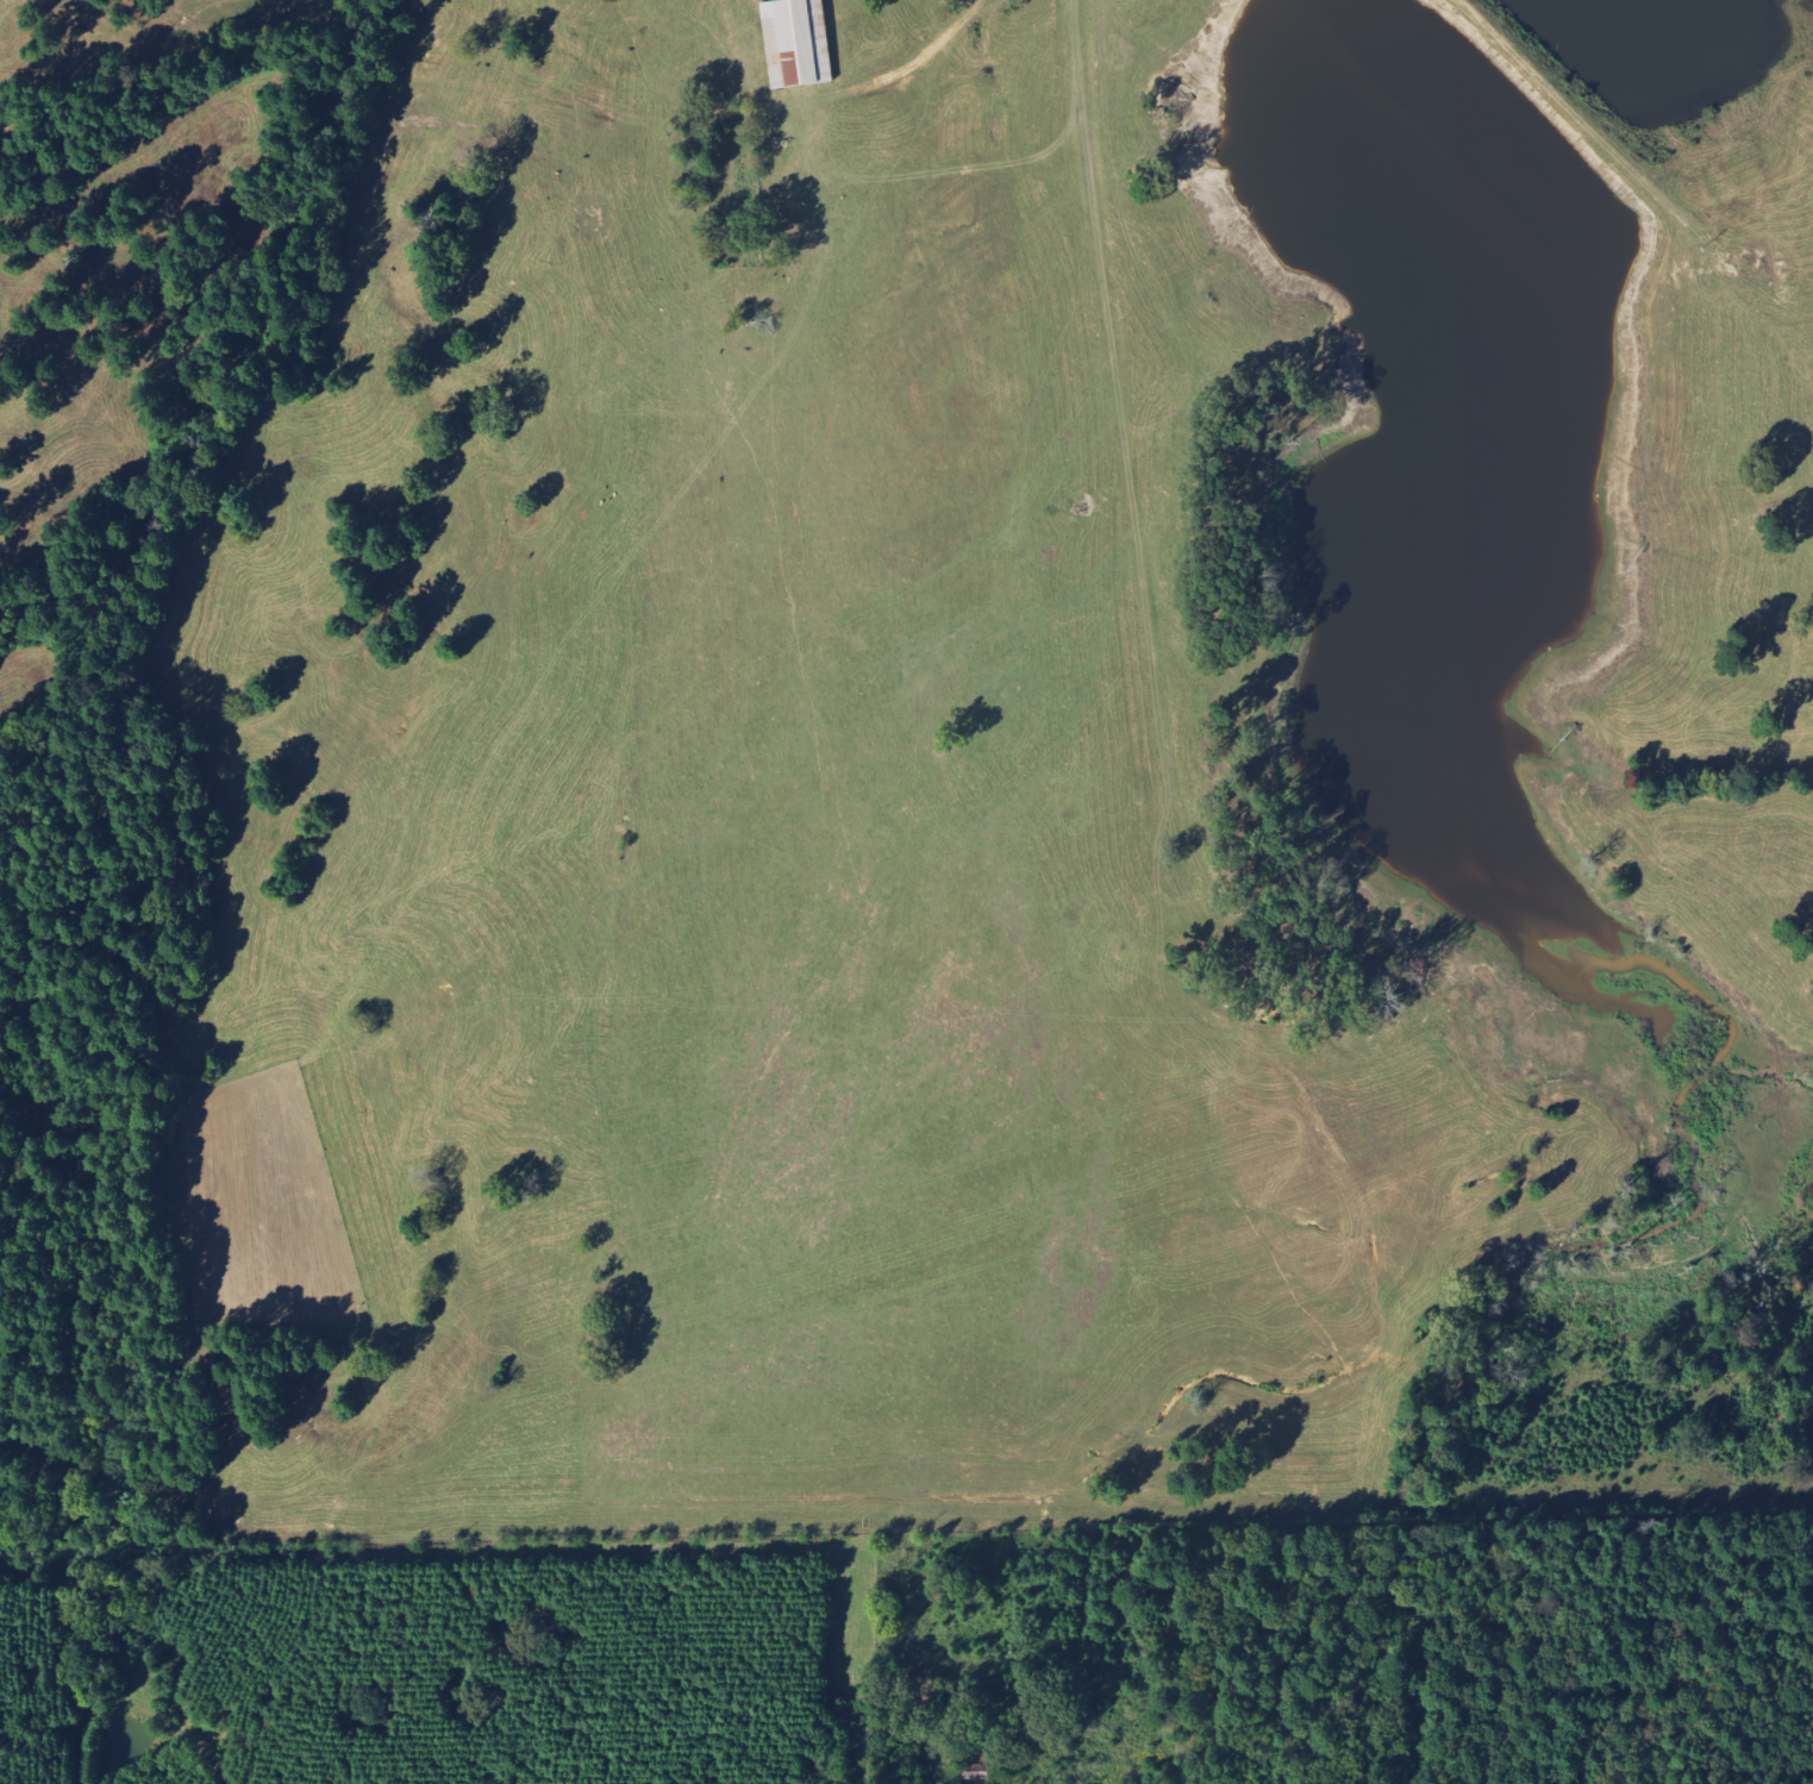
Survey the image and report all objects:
building: (799, 43)
building: (976, 1778)

